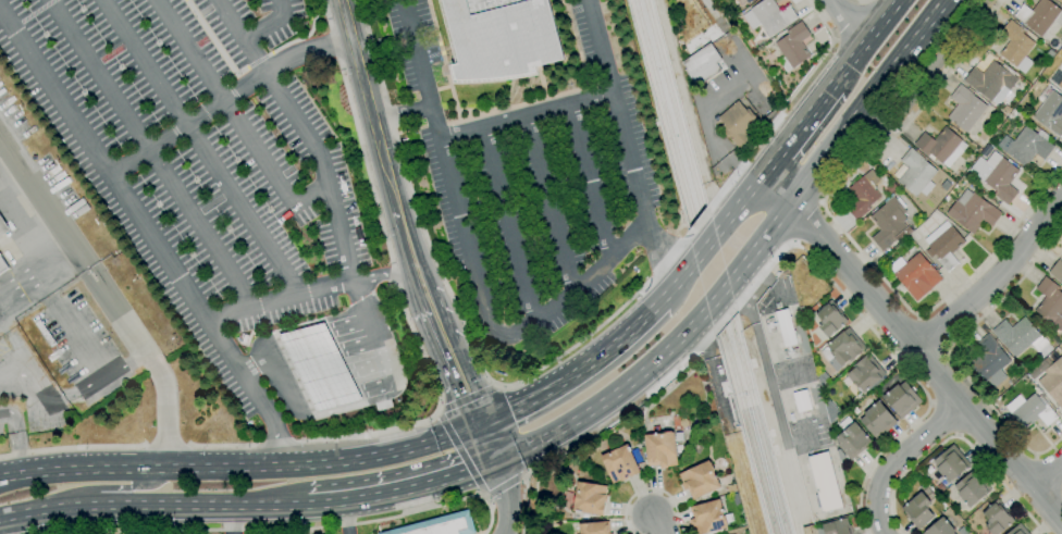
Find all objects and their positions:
road: (863, 0)
building: (1061, 0)
building: (748, 1)
building: (768, 16)
building: (1039, 16)
road: (267, 22)
road: (848, 23)
building: (498, 38)
road: (864, 42)
building: (1014, 44)
building: (792, 47)
building: (701, 65)
road: (925, 74)
road: (732, 79)
building: (1057, 79)
building: (991, 82)
road: (864, 100)
road: (224, 101)
road: (226, 101)
road: (367, 105)
road: (765, 107)
road: (785, 107)
building: (965, 108)
road: (524, 112)
building: (1050, 113)
road: (400, 115)
building: (737, 123)
road: (795, 132)
road: (306, 133)
road: (627, 145)
building: (1026, 146)
building: (940, 147)
road: (199, 148)
road: (149, 152)
road: (719, 157)
building: (915, 173)
building: (996, 175)
road: (586, 179)
building: (944, 185)
road: (774, 190)
road: (309, 195)
building: (862, 195)
road: (545, 201)
road: (819, 203)
road: (737, 206)
building: (973, 213)
road: (506, 222)
road: (805, 222)
building: (889, 223)
road: (696, 224)
building: (3, 226)
road: (847, 236)
road: (149, 237)
road: (794, 243)
road: (757, 244)
building: (943, 245)
road: (704, 247)
road: (411, 258)
road: (472, 262)
road: (33, 264)
building: (2, 265)
railway: (703, 266)
railway: (713, 266)
building: (1057, 271)
building: (916, 276)
road: (396, 277)
road: (997, 277)
road: (384, 278)
road: (677, 281)
road: (104, 296)
road: (716, 296)
road: (277, 299)
building: (1050, 303)
road: (456, 313)
road: (724, 319)
building: (830, 319)
road: (301, 324)
road: (344, 326)
building: (785, 327)
building: (45, 333)
road: (933, 333)
building: (1018, 336)
road: (304, 337)
road: (78, 343)
road: (270, 347)
road: (351, 347)
building: (842, 349)
road: (888, 349)
road: (948, 350)
road: (313, 356)
building: (988, 358)
road: (928, 359)
road: (279, 364)
road: (455, 364)
road: (360, 367)
building: (320, 368)
gas station: (320, 368)
road: (576, 371)
building: (865, 373)
road: (325, 376)
building: (1050, 380)
road: (293, 386)
road: (369, 387)
road: (335, 397)
road: (468, 397)
road: (610, 397)
building: (901, 399)
road: (46, 401)
road: (305, 406)
road: (350, 406)
building: (1029, 410)
building: (877, 420)
traffic signals: (481, 425)
road: (603, 430)
road: (956, 436)
road: (15, 438)
building: (852, 440)
road: (489, 443)
road: (165, 445)
road: (242, 445)
road: (72, 449)
building: (659, 450)
road: (460, 451)
road: (898, 458)
traffic signals: (496, 461)
building: (950, 463)
building: (619, 464)
road: (243, 468)
road: (1047, 470)
road: (1046, 472)
building: (699, 480)
building: (823, 482)
road: (505, 484)
road: (103, 487)
building: (971, 488)
road: (404, 489)
road: (649, 490)
road: (483, 496)
road: (505, 497)
building: (589, 498)
road: (153, 505)
building: (917, 510)
road: (345, 517)
building: (707, 518)
building: (997, 518)
road: (231, 519)
road: (12, 524)
building: (441, 525)
road: (653, 525)
building: (837, 526)
building: (594, 527)
building: (939, 527)
road: (295, 529)
building: (1017, 530)

